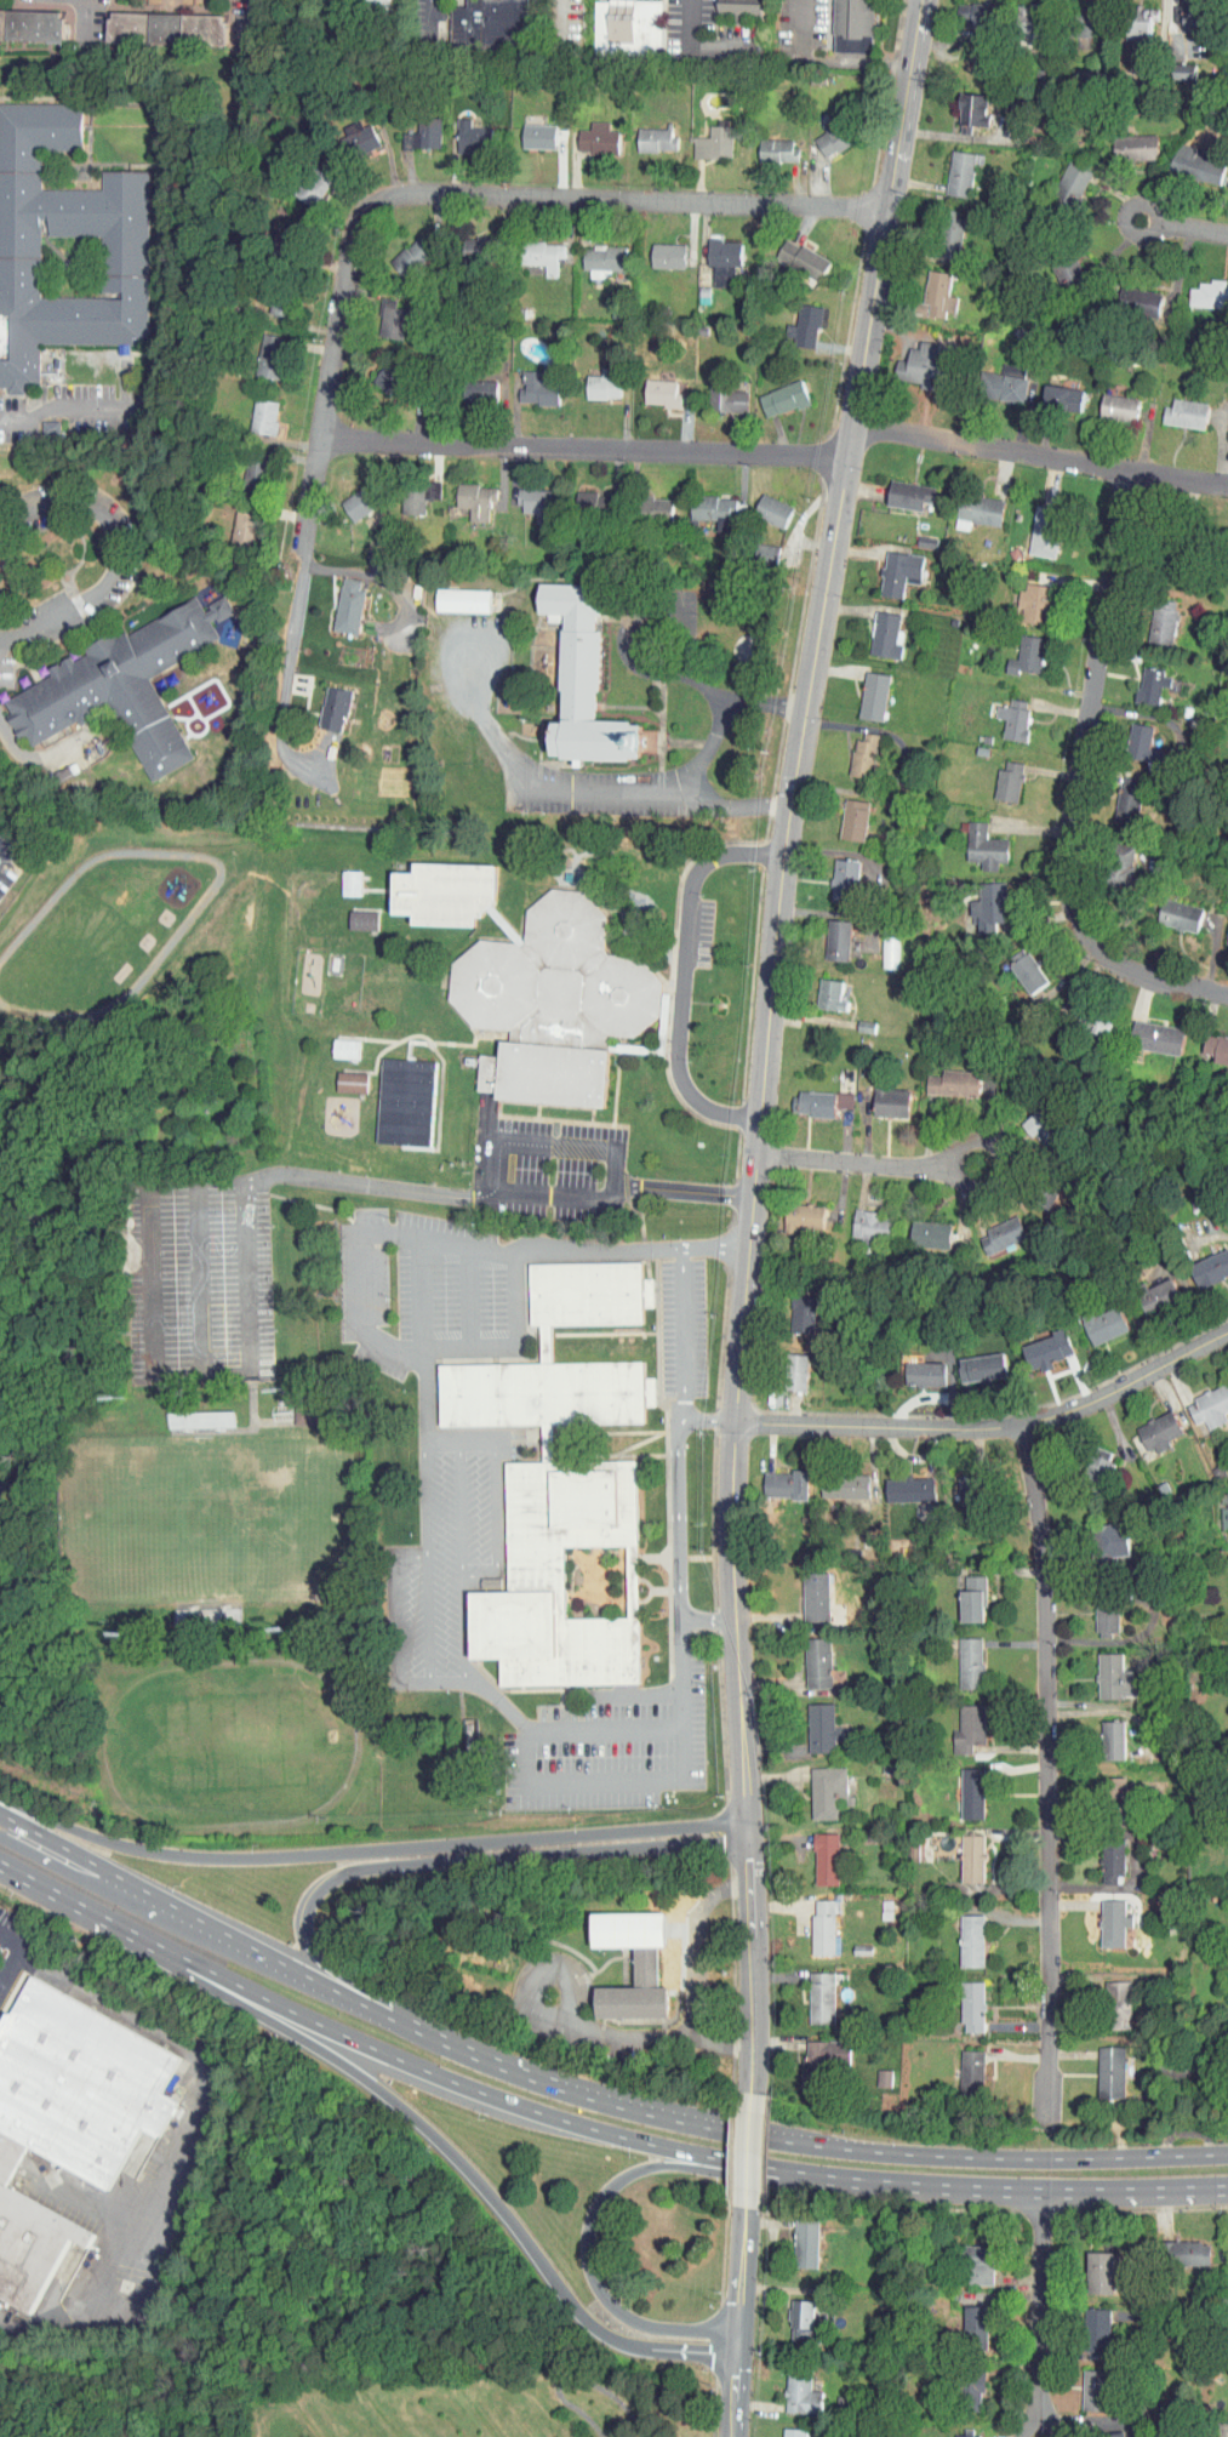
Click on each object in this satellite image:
building: (742, 7)
building: (1018, 11)
building: (1182, 11)
building: (966, 13)
building: (1130, 16)
road: (253, 17)
road: (430, 17)
road: (84, 19)
road: (690, 19)
building: (32, 24)
building: (491, 24)
building: (856, 25)
building: (169, 27)
building: (628, 27)
road: (826, 63)
building: (1175, 64)
building: (964, 102)
building: (412, 129)
building: (527, 129)
building: (350, 130)
building: (461, 130)
building: (821, 130)
building: (587, 131)
building: (645, 132)
building: (703, 136)
building: (1125, 141)
building: (767, 143)
building: (1184, 158)
building: (948, 166)
building: (1062, 175)
building: (302, 179)
road: (446, 188)
road: (1186, 224)
building: (939, 230)
building: (469, 239)
building: (533, 249)
building: (657, 249)
building: (401, 250)
building: (592, 252)
building: (790, 252)
building: (713, 253)
building: (125, 266)
building: (1057, 266)
building: (926, 287)
building: (1203, 287)
building: (1133, 296)
building: (269, 298)
building: (381, 313)
building: (794, 320)
building: (258, 349)
building: (914, 359)
building: (382, 372)
building: (593, 377)
building: (995, 377)
building: (527, 382)
building: (473, 383)
building: (650, 387)
building: (718, 392)
building: (772, 392)
building: (1052, 392)
building: (1109, 400)
building: (1175, 407)
building: (1224, 407)
road: (84, 409)
building: (252, 410)
building: (38, 421)
building: (50, 427)
road: (778, 456)
building: (244, 461)
building: (898, 489)
building: (525, 493)
building: (401, 495)
building: (466, 495)
building: (581, 496)
building: (348, 497)
building: (970, 502)
building: (645, 503)
building: (704, 503)
building: (762, 504)
building: (233, 521)
building: (1035, 525)
building: (1226, 544)
building: (760, 547)
road: (118, 553)
building: (887, 566)
road: (375, 576)
building: (452, 594)
building: (1024, 597)
building: (338, 600)
building: (1153, 617)
road: (817, 620)
building: (874, 629)
road: (626, 638)
building: (1016, 649)
road: (286, 666)
building: (575, 675)
building: (1142, 679)
building: (122, 685)
building: (863, 690)
building: (324, 702)
road: (720, 710)
building: (1003, 713)
building: (1132, 737)
building: (853, 748)
building: (998, 774)
road: (1076, 780)
road: (575, 787)
building: (1118, 793)
building: (844, 814)
building: (973, 839)
parking lot: (6, 856)
building: (834, 872)
building: (339, 874)
building: (449, 894)
building: (978, 898)
building: (1169, 908)
building: (352, 912)
building: (1222, 924)
building: (506, 926)
building: (827, 931)
parking lot: (703, 934)
building: (1016, 963)
road: (682, 977)
building: (558, 978)
building: (821, 987)
flagpole: (720, 1004)
building: (1087, 1015)
building: (1146, 1029)
building: (333, 1040)
building: (1211, 1041)
building: (341, 1074)
building: (554, 1075)
building: (942, 1075)
building: (880, 1094)
building: (806, 1095)
building: (409, 1103)
building: (1028, 1123)
road: (548, 1145)
road: (866, 1162)
parking lot: (546, 1169)
road: (373, 1186)
road: (686, 1191)
road: (610, 1193)
road: (548, 1197)
building: (794, 1211)
building: (862, 1218)
building: (920, 1227)
building: (990, 1227)
road: (435, 1240)
building: (1204, 1259)
building: (1146, 1289)
building: (590, 1294)
road: (421, 1300)
building: (794, 1306)
building: (1093, 1317)
road: (681, 1332)
road: (739, 1332)
building: (1036, 1341)
building: (548, 1343)
building: (972, 1359)
building: (787, 1364)
building: (914, 1366)
building: (546, 1396)
building: (1201, 1399)
building: (295, 1404)
building: (188, 1410)
building: (1148, 1423)
road: (989, 1425)
road: (441, 1443)
road: (476, 1443)
building: (549, 1444)
building: (1092, 1453)
building: (775, 1477)
building: (834, 1478)
building: (899, 1482)
building: (960, 1485)
road: (681, 1493)
road: (425, 1499)
parking lot: (555, 1501)
stadium: (195, 1506)
building: (1220, 1509)
park: (193, 1511)
road: (493, 1523)
building: (1106, 1531)
building: (656, 1557)
road: (462, 1563)
building: (1224, 1564)
building: (569, 1580)
building: (805, 1590)
building: (963, 1591)
road: (393, 1599)
building: (193, 1608)
building: (1096, 1609)
road: (429, 1617)
road: (708, 1617)
road: (735, 1625)
building: (806, 1655)
building: (959, 1655)
building: (1103, 1670)
road: (412, 1680)
building: (811, 1720)
building: (958, 1720)
road: (605, 1727)
building: (1103, 1734)
park: (240, 1736)
track: (229, 1745)
road: (1044, 1771)
building: (1102, 1779)
road: (601, 1781)
building: (816, 1783)
building: (960, 1786)
road: (367, 1850)
building: (963, 1850)
building: (816, 1851)
building: (1101, 1857)
road: (5, 1862)
road: (410, 1862)
road: (97, 1887)
road: (70, 1897)
building: (1227, 1899)
building: (1103, 1916)
building: (812, 1919)
road: (227, 1931)
building: (961, 1934)
road: (11, 1941)
building: (622, 1957)
road: (749, 1959)
road: (11, 1969)
road: (701, 1971)
building: (811, 1991)
building: (1108, 1997)
building: (961, 1999)
road: (564, 2022)
building: (813, 2055)
building: (1100, 2065)
building: (960, 2066)
building: (874, 2071)
building: (80, 2083)
road: (467, 2085)
road: (445, 2145)
road: (834, 2146)
road: (747, 2148)
road: (182, 2155)
road: (1026, 2187)
road: (598, 2202)
road: (893, 2209)
building: (28, 2236)
building: (805, 2241)
building: (1184, 2251)
building: (976, 2261)
building: (1098, 2271)
road: (738, 2273)
traffic signals: (737, 2302)
road: (1039, 2312)
park: (353, 2321)
building: (803, 2321)
building: (973, 2328)
building: (1096, 2328)
building: (1227, 2335)
traffic signals: (704, 2353)
traffic signals: (732, 2370)
road: (575, 2375)
building: (969, 2386)
building: (1096, 2387)
road: (731, 2389)
building: (800, 2391)
building: (793, 2432)
building: (967, 2433)
building: (1113, 2433)

